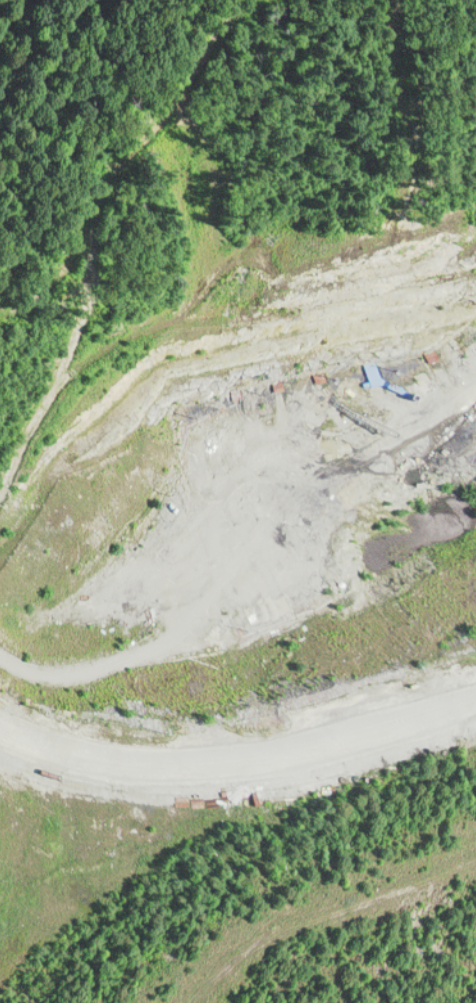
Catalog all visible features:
road: (58, 104)
quarry: (242, 553)

